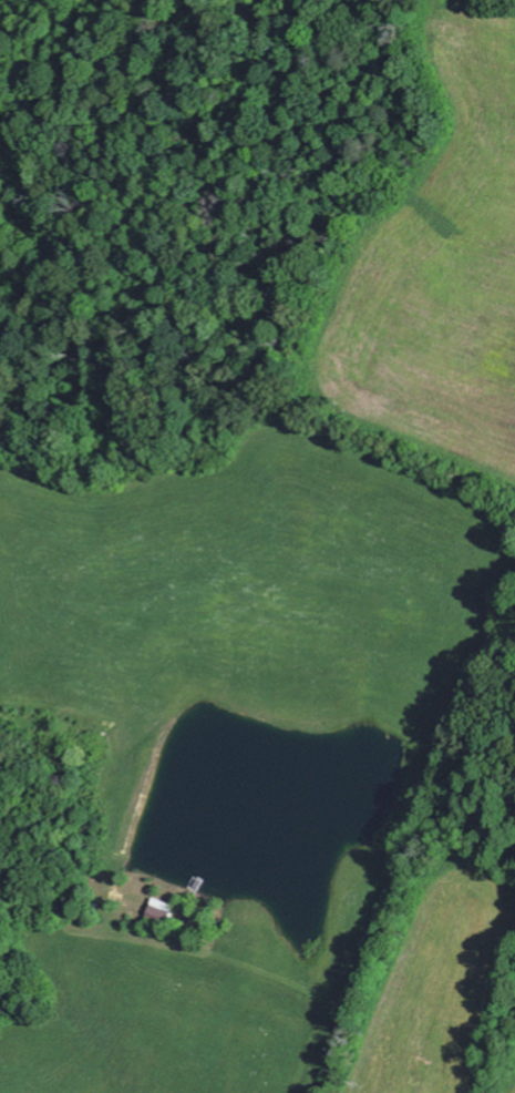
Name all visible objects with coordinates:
building: (165, 912)

